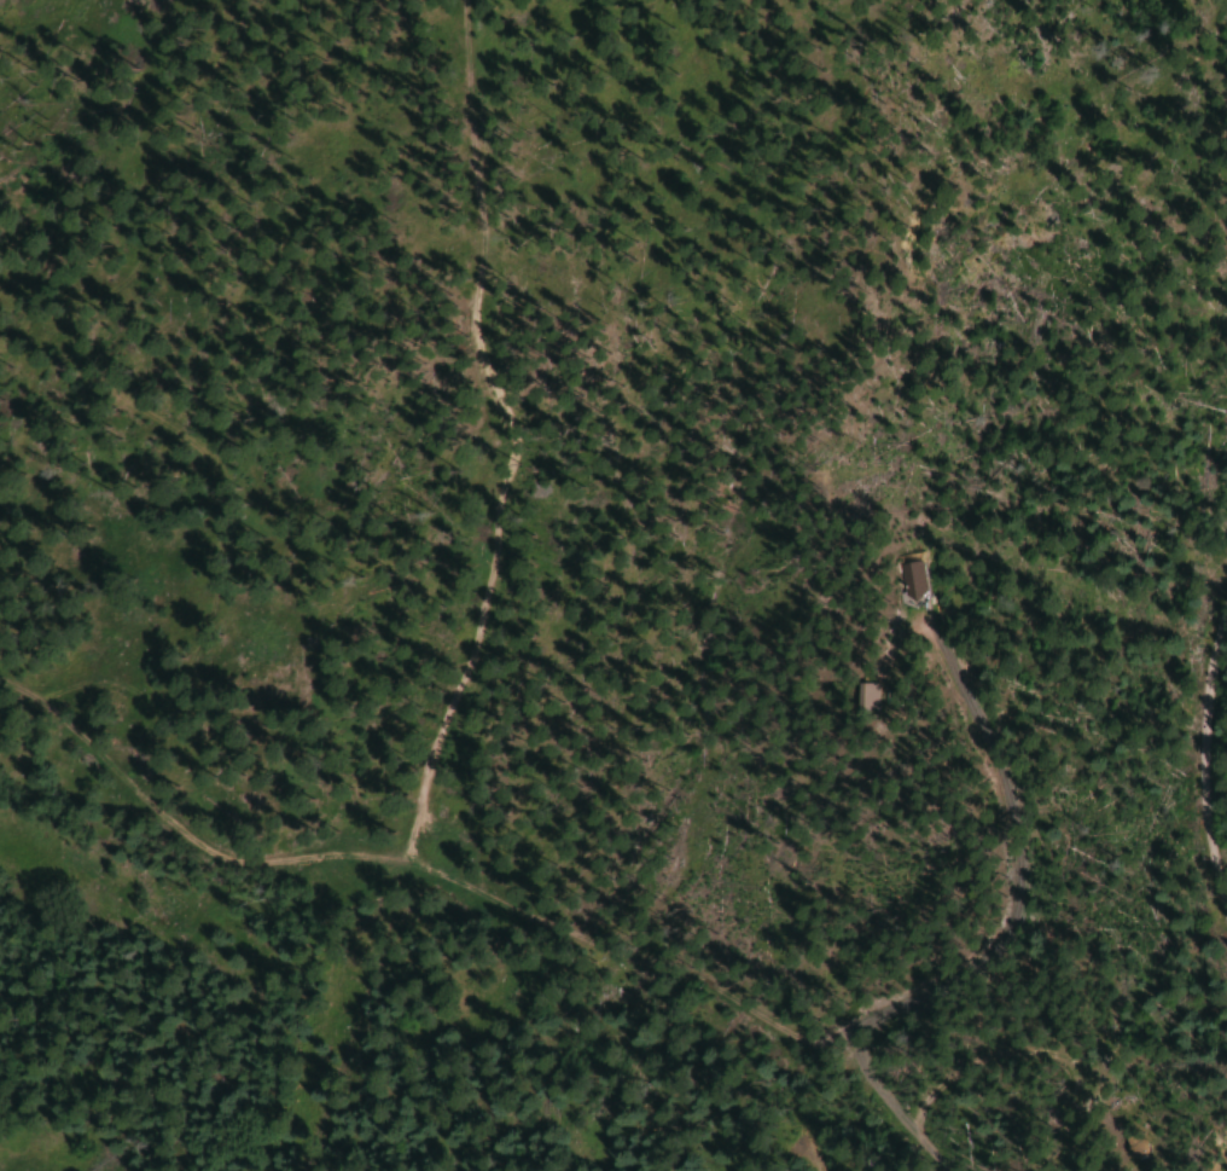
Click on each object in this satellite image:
building: (907, 579)
building: (851, 695)
road: (1200, 747)
road: (989, 944)
building: (1122, 1149)

